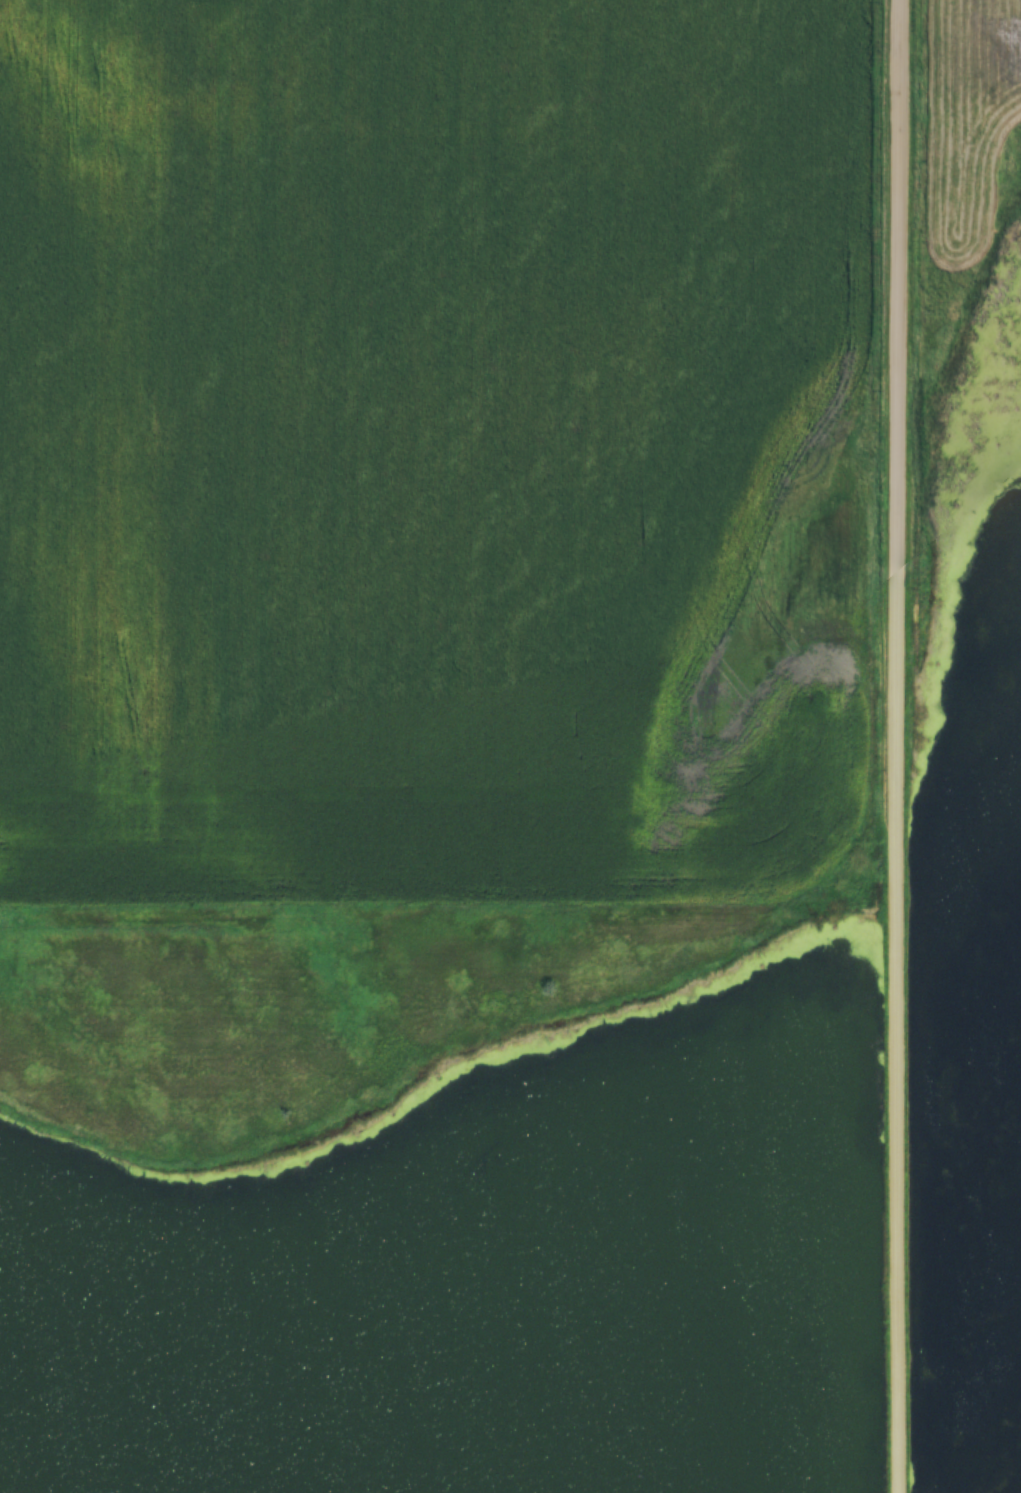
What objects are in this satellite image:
road: (900, 746)

